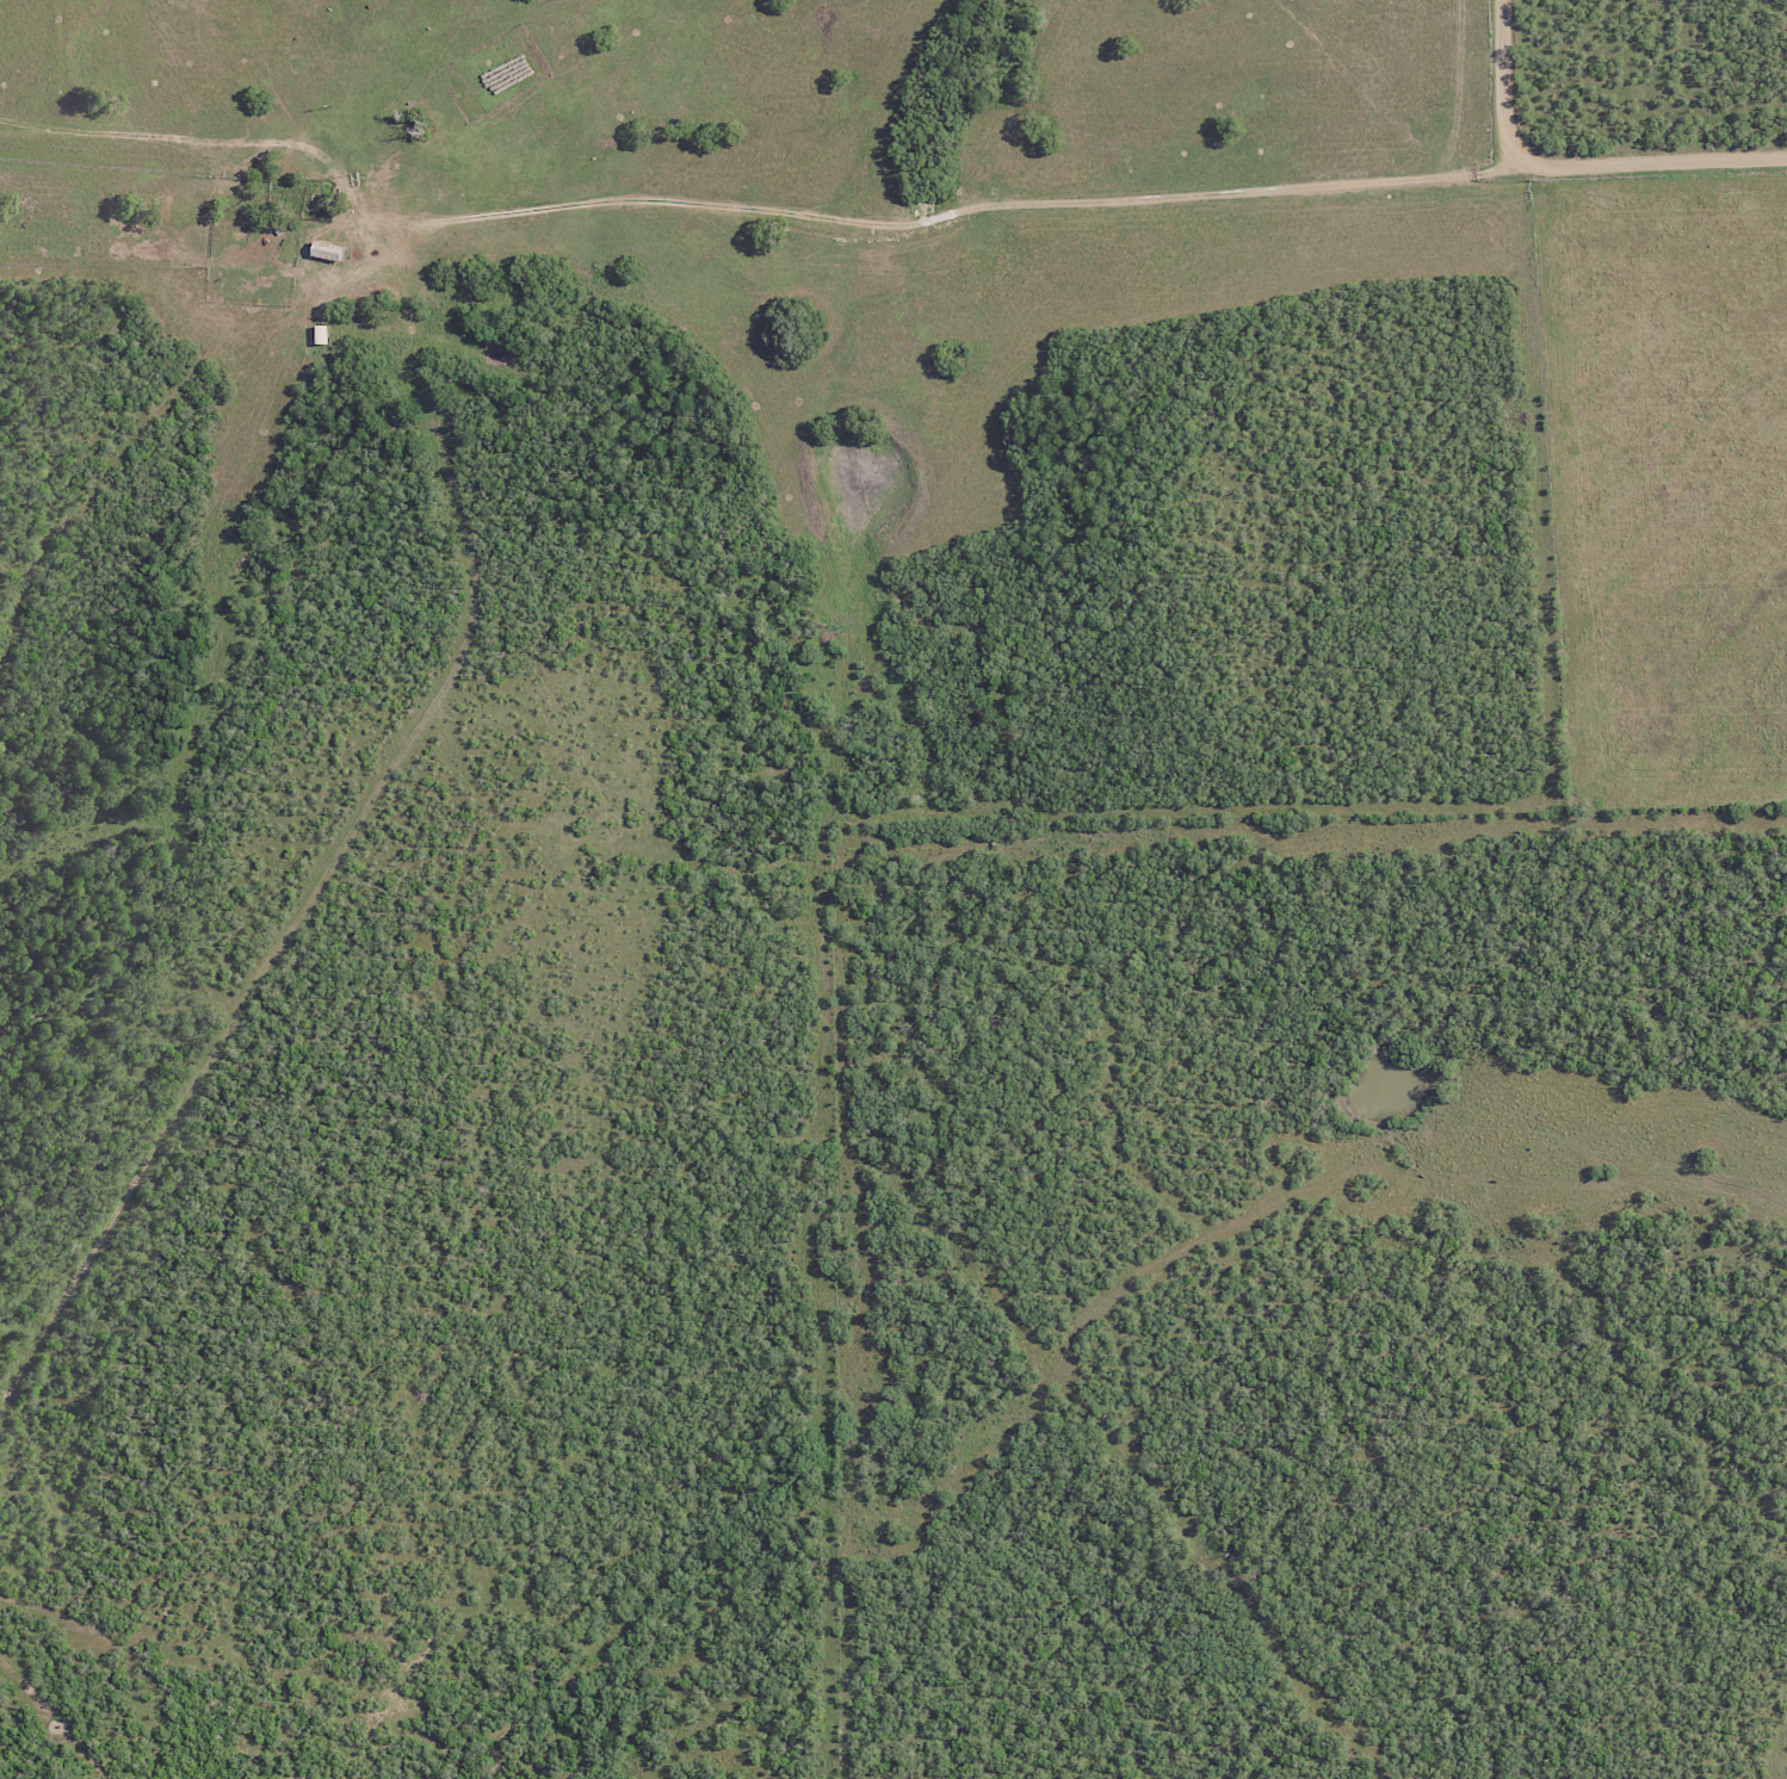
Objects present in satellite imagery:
road: (1576, 163)

